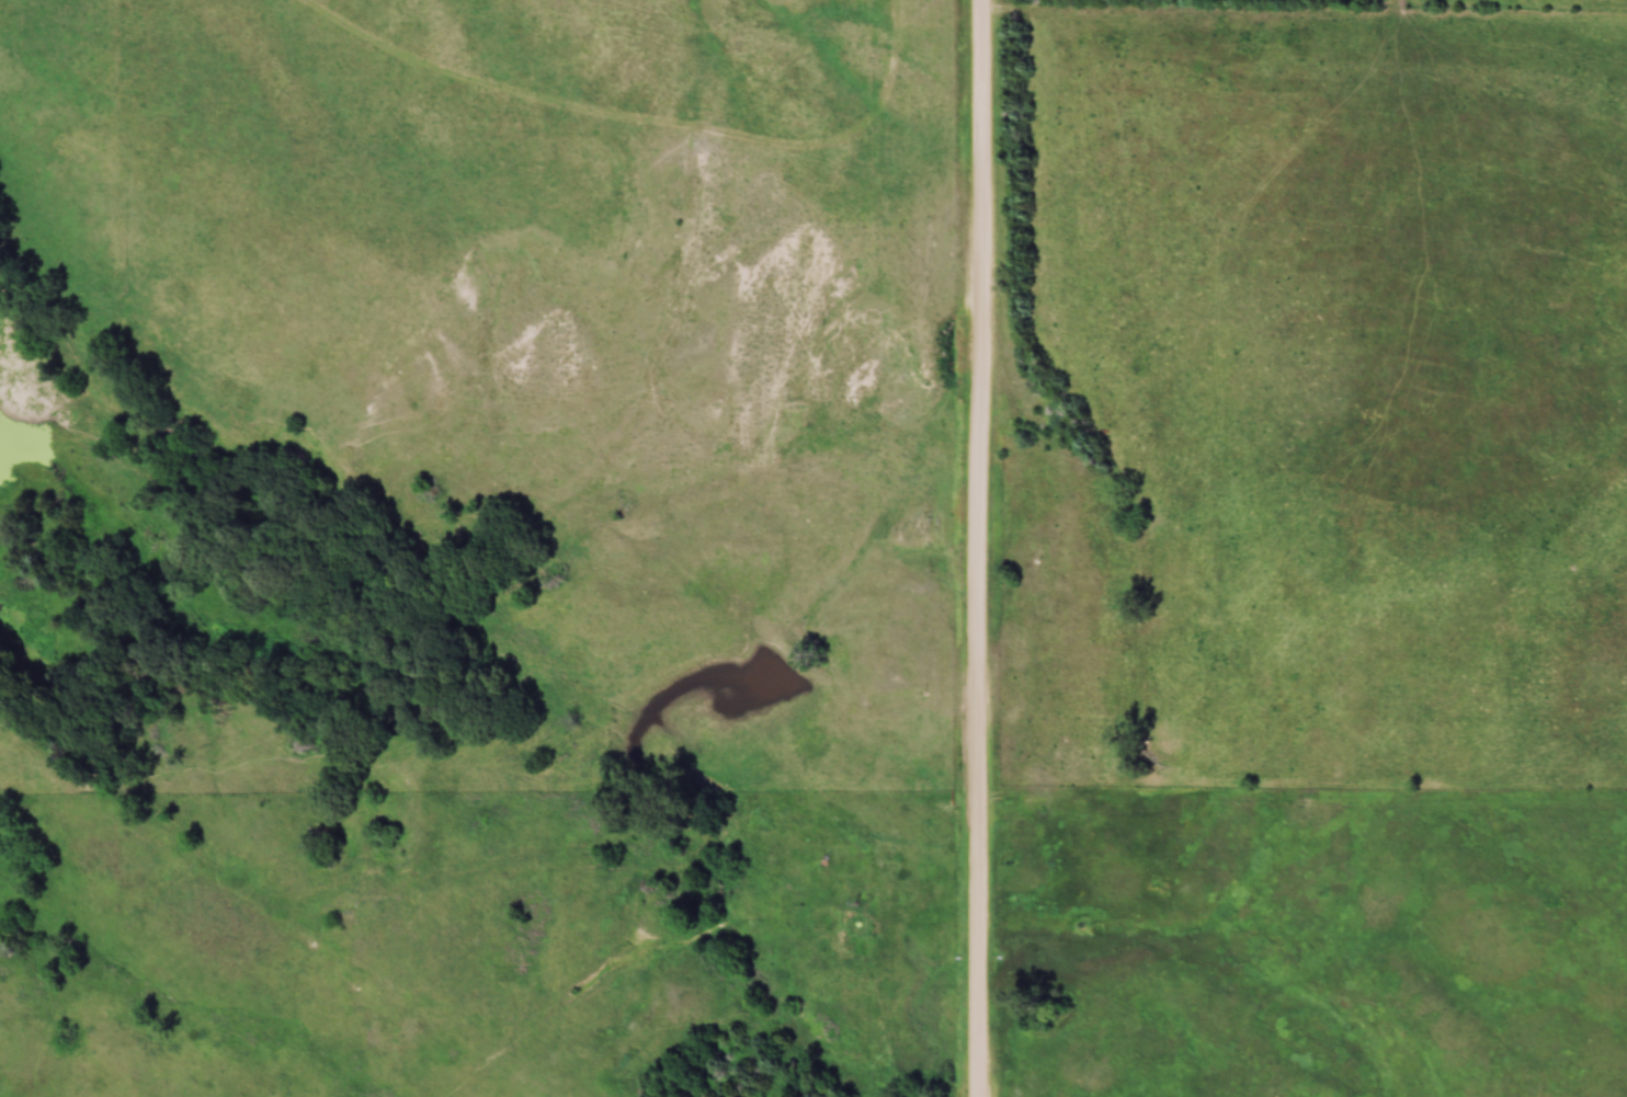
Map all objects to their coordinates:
road: (982, 548)

